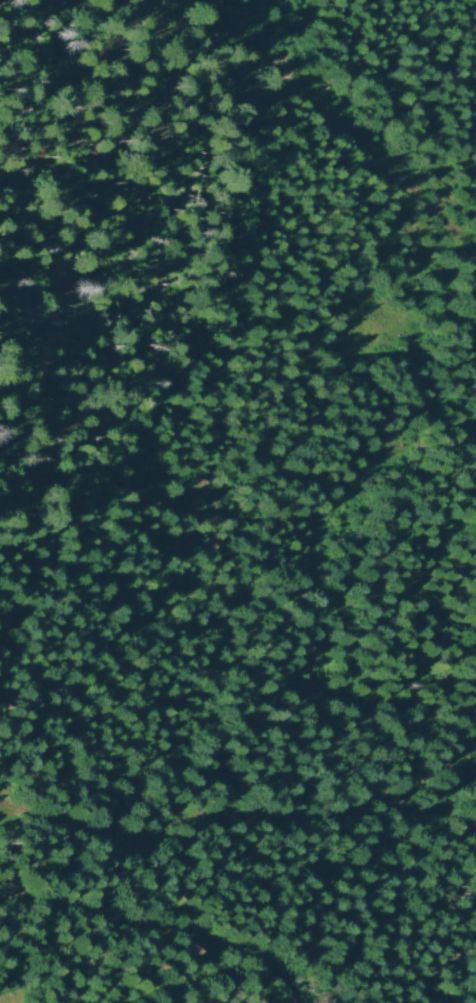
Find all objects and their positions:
road: (242, 822)
road: (150, 930)

